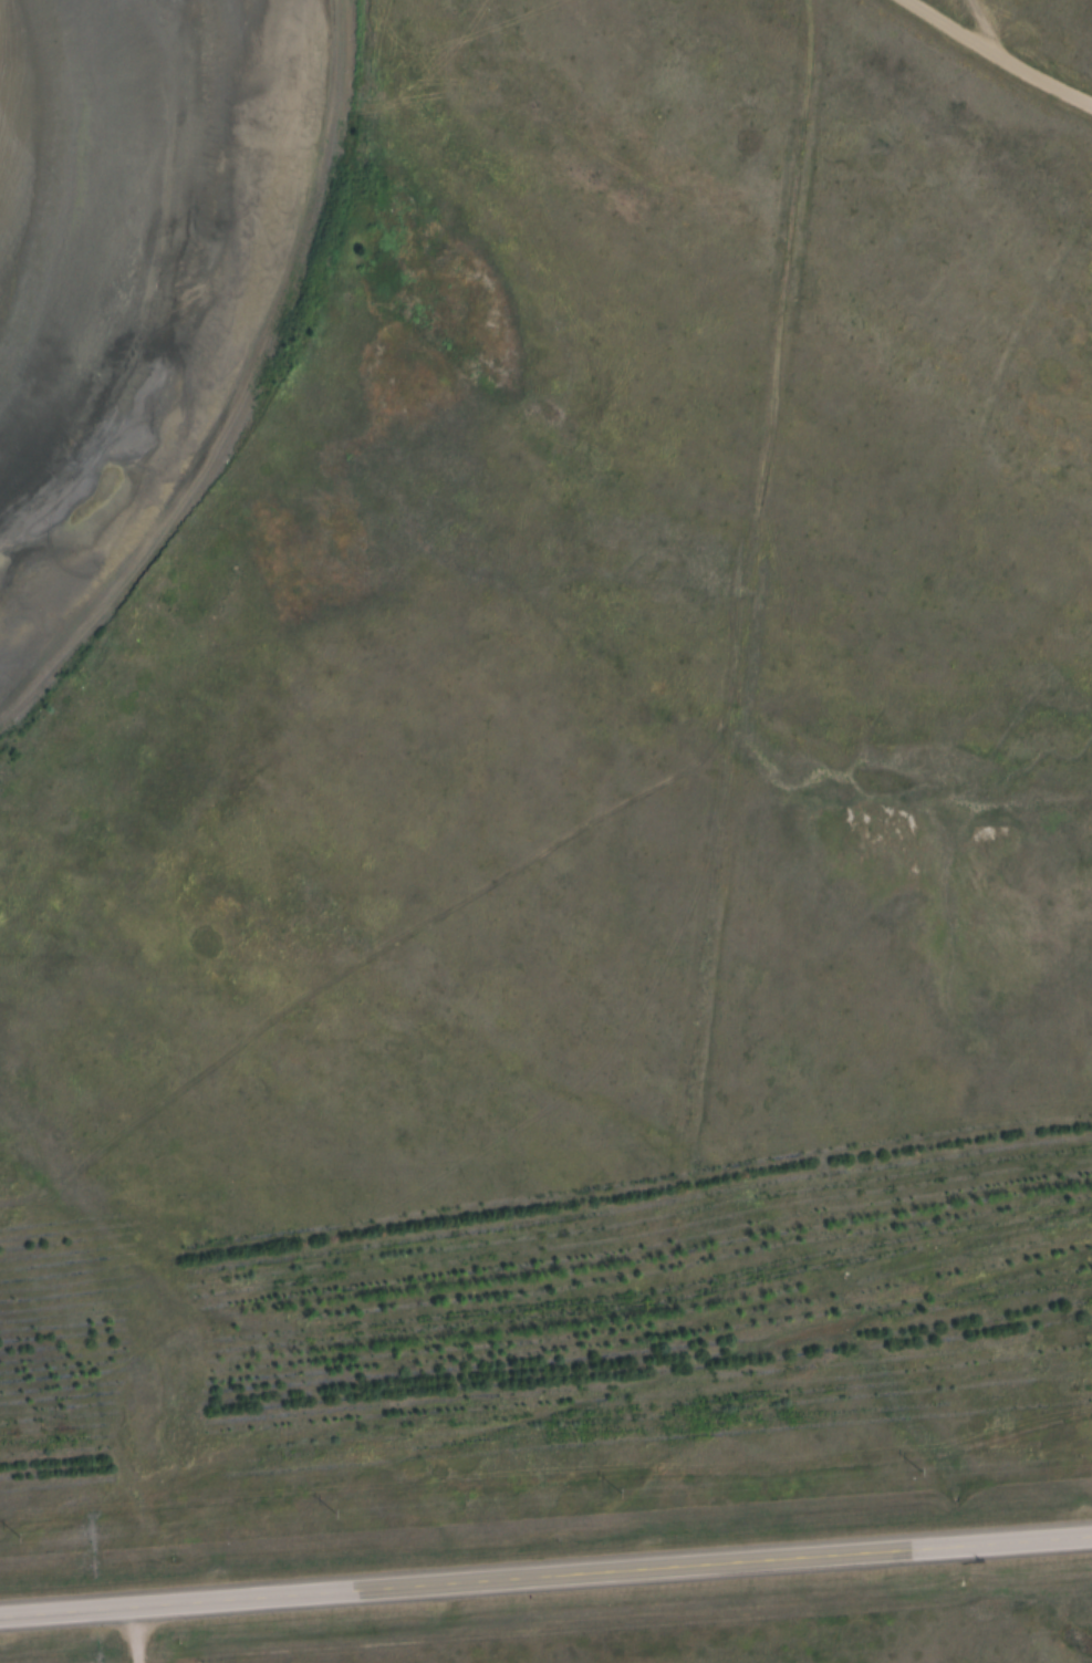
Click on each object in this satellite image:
road: (999, 53)
road: (545, 1578)

